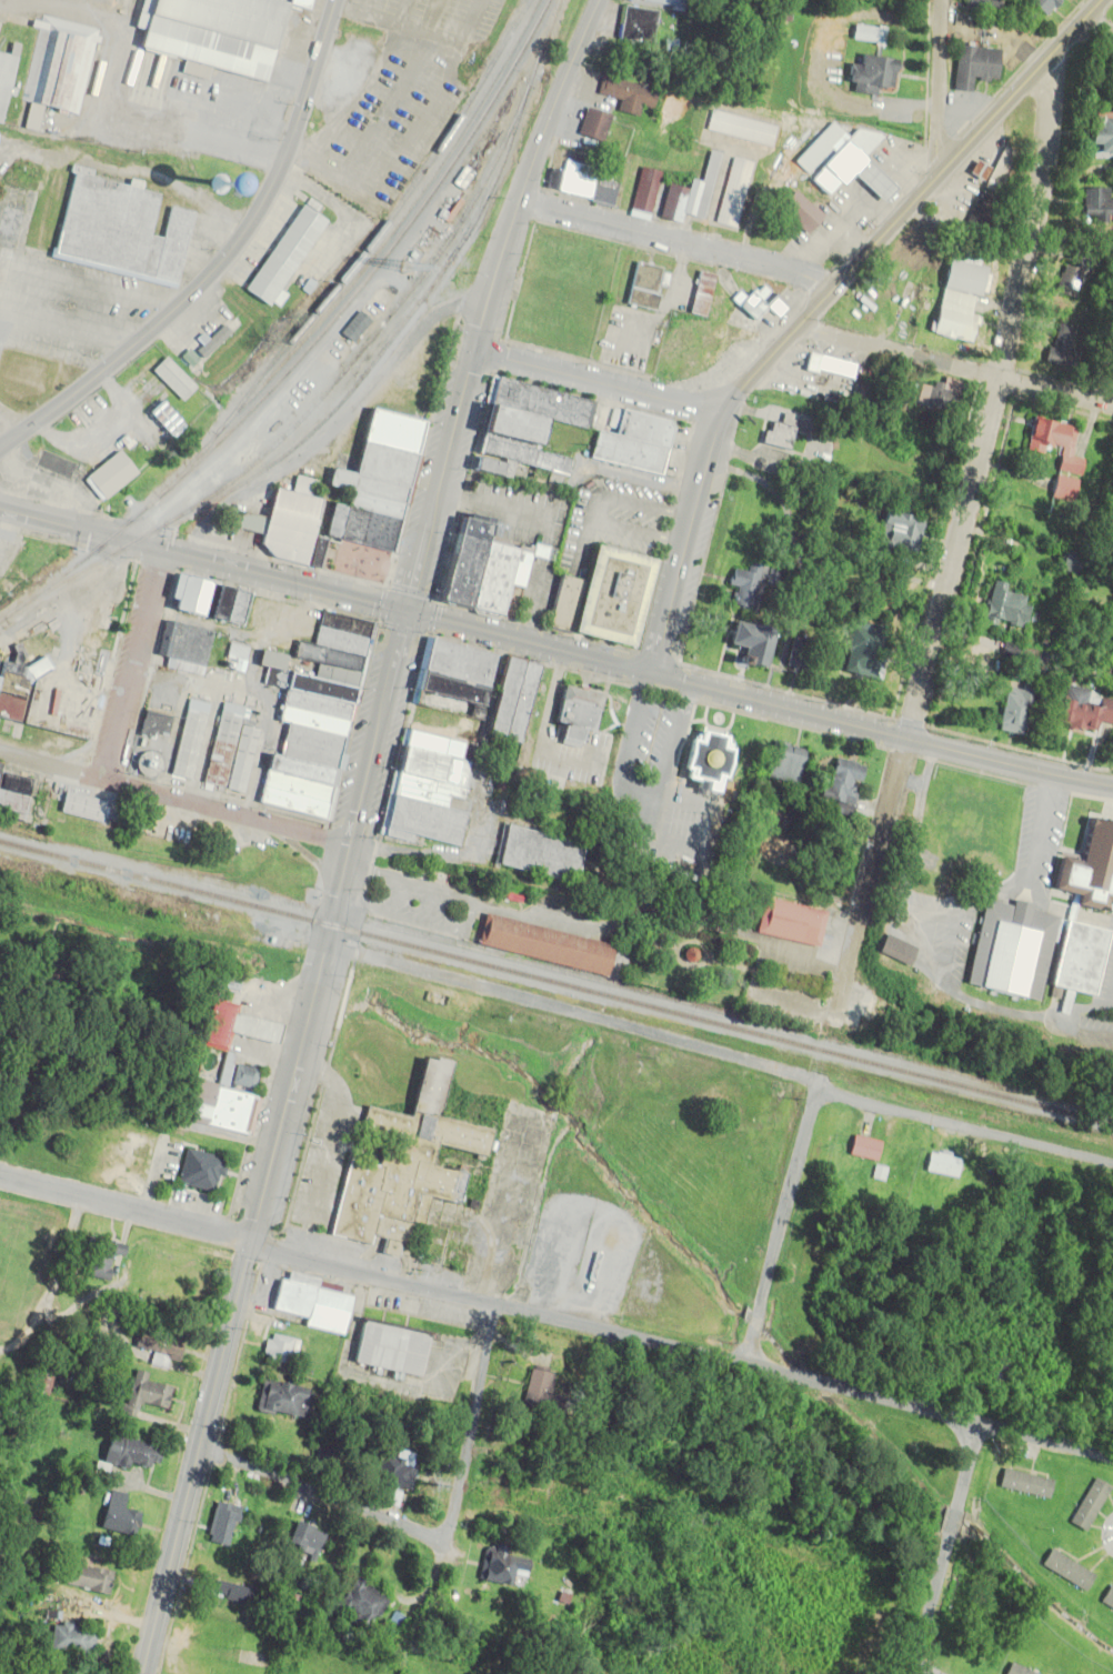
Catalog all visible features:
building: (111, 0)
building: (670, 2)
building: (980, 6)
building: (1040, 6)
road: (357, 7)
road: (395, 12)
building: (635, 24)
road: (395, 27)
road: (1094, 31)
building: (219, 33)
building: (972, 67)
building: (58, 68)
building: (870, 74)
building: (6, 82)
road: (939, 87)
building: (628, 94)
road: (392, 97)
road: (353, 98)
parking lot: (393, 99)
building: (593, 124)
building: (741, 128)
building: (1099, 133)
road: (404, 141)
building: (844, 157)
building: (1001, 170)
building: (582, 182)
building: (645, 190)
building: (734, 192)
building: (688, 196)
road: (911, 204)
building: (1094, 204)
building: (800, 211)
building: (986, 215)
railway: (391, 217)
building: (123, 230)
road: (679, 240)
railway: (381, 243)
building: (285, 255)
road: (222, 262)
building: (1070, 279)
building: (643, 285)
building: (701, 294)
building: (956, 299)
road: (490, 301)
building: (758, 303)
building: (353, 328)
railway: (380, 331)
building: (218, 337)
railway: (312, 343)
building: (1061, 345)
building: (714, 352)
building: (829, 365)
road: (955, 368)
building: (1112, 368)
railway: (362, 375)
building: (173, 379)
road: (600, 383)
building: (937, 395)
building: (521, 428)
building: (778, 433)
building: (632, 443)
building: (110, 475)
building: (371, 502)
building: (293, 523)
building: (894, 535)
road: (686, 541)
road: (954, 542)
road: (202, 558)
building: (1066, 563)
building: (477, 569)
building: (892, 575)
building: (745, 585)
building: (620, 597)
building: (212, 599)
building: (563, 607)
building: (1002, 608)
building: (749, 641)
building: (861, 650)
building: (195, 651)
building: (802, 654)
building: (234, 656)
road: (132, 663)
building: (47, 691)
building: (453, 694)
road: (758, 700)
building: (515, 701)
building: (1013, 709)
building: (1083, 710)
building: (320, 716)
fountain: (719, 718)
building: (575, 719)
building: (152, 724)
flagpole: (743, 726)
building: (191, 741)
building: (230, 752)
building: (705, 759)
building: (0, 761)
building: (781, 761)
road: (664, 764)
building: (839, 780)
road: (614, 784)
building: (430, 793)
building: (12, 794)
parking lot: (664, 794)
road: (174, 798)
building: (79, 805)
road: (1044, 832)
building: (543, 853)
road: (708, 865)
building: (1089, 870)
road: (471, 903)
parking lot: (460, 908)
road: (1070, 911)
building: (790, 921)
building: (547, 948)
building: (892, 949)
building: (1010, 950)
building: (1076, 956)
road: (947, 964)
railway: (556, 982)
road: (1111, 1002)
road: (1073, 1010)
road: (1082, 1036)
road: (719, 1055)
building: (227, 1072)
road: (275, 1142)
building: (861, 1147)
building: (403, 1164)
building: (940, 1164)
building: (198, 1170)
road: (126, 1207)
road: (780, 1225)
building: (97, 1256)
building: (307, 1304)
building: (154, 1342)
building: (280, 1349)
building: (389, 1349)
road: (681, 1352)
building: (42, 1382)
building: (532, 1389)
building: (140, 1394)
building: (282, 1400)
road: (472, 1426)
building: (121, 1454)
building: (389, 1478)
building: (1023, 1483)
road: (312, 1492)
building: (1087, 1504)
building: (114, 1515)
building: (221, 1524)
building: (303, 1540)
road: (944, 1548)
building: (497, 1565)
building: (1065, 1570)
building: (83, 1578)
building: (233, 1593)
building: (1106, 1600)
building: (359, 1603)
building: (69, 1638)
building: (1015, 1670)
road: (912, 1673)

